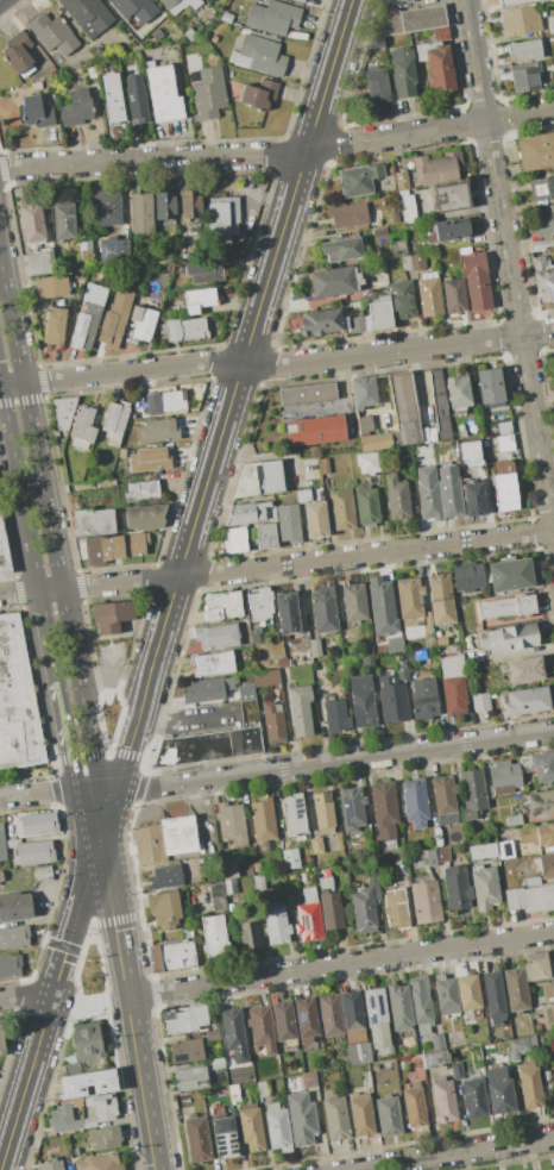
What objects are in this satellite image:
building: (300, 0)
building: (514, 2)
building: (180, 5)
building: (134, 8)
building: (88, 15)
building: (226, 17)
building: (272, 17)
building: (422, 17)
building: (520, 20)
building: (386, 21)
building: (550, 24)
building: (164, 30)
building: (51, 33)
building: (440, 33)
building: (189, 35)
building: (524, 50)
building: (99, 52)
building: (18, 54)
building: (258, 55)
building: (436, 64)
building: (402, 70)
building: (92, 71)
road: (328, 75)
building: (524, 76)
building: (49, 85)
building: (36, 86)
building: (377, 86)
building: (206, 92)
building: (163, 94)
building: (259, 94)
building: (111, 96)
building: (133, 98)
building: (76, 107)
building: (34, 112)
building: (270, 120)
road: (429, 129)
building: (535, 151)
road: (153, 161)
building: (434, 167)
building: (359, 179)
building: (401, 180)
building: (541, 188)
building: (451, 195)
building: (166, 205)
building: (190, 205)
building: (405, 207)
building: (106, 208)
building: (141, 213)
building: (347, 214)
building: (221, 215)
building: (394, 218)
building: (543, 220)
building: (62, 221)
building: (31, 224)
building: (449, 230)
building: (379, 237)
building: (541, 245)
building: (84, 248)
building: (396, 248)
building: (113, 249)
building: (340, 249)
road: (273, 257)
building: (415, 258)
building: (40, 262)
building: (403, 262)
building: (380, 268)
road: (510, 268)
building: (203, 271)
building: (474, 277)
building: (542, 279)
building: (336, 280)
building: (51, 286)
building: (428, 294)
building: (454, 295)
building: (401, 299)
building: (197, 300)
building: (354, 305)
building: (378, 313)
building: (87, 318)
building: (115, 320)
building: (143, 323)
building: (319, 323)
building: (355, 324)
building: (55, 325)
building: (185, 329)
road: (289, 364)
road: (12, 384)
building: (489, 387)
building: (364, 392)
building: (307, 393)
building: (458, 393)
building: (165, 401)
building: (439, 403)
building: (329, 407)
building: (63, 411)
building: (397, 418)
building: (114, 423)
building: (364, 425)
building: (497, 425)
building: (82, 428)
building: (157, 430)
building: (314, 431)
building: (504, 443)
building: (470, 452)
building: (149, 459)
building: (367, 463)
building: (323, 465)
road: (209, 470)
building: (259, 478)
building: (106, 483)
building: (82, 486)
building: (503, 487)
building: (141, 490)
building: (429, 498)
building: (451, 498)
building: (396, 499)
building: (472, 499)
building: (367, 507)
building: (342, 509)
building: (246, 514)
building: (145, 517)
building: (315, 519)
building: (93, 521)
building: (288, 523)
road: (51, 530)
road: (26, 533)
building: (265, 537)
building: (235, 540)
building: (122, 546)
building: (93, 551)
building: (2, 552)
road: (308, 562)
building: (510, 574)
building: (467, 576)
road: (50, 589)
road: (18, 592)
building: (440, 593)
building: (353, 602)
building: (221, 606)
building: (382, 606)
building: (259, 607)
building: (410, 607)
building: (508, 607)
building: (323, 609)
building: (287, 613)
building: (114, 615)
building: (428, 631)
building: (215, 636)
building: (508, 638)
building: (394, 644)
building: (315, 647)
road: (523, 651)
building: (415, 656)
building: (281, 662)
building: (369, 662)
building: (212, 664)
building: (401, 668)
building: (525, 669)
building: (265, 677)
building: (453, 684)
building: (207, 689)
road: (143, 692)
building: (245, 692)
building: (423, 697)
building: (391, 700)
building: (525, 700)
building: (18, 701)
building: (361, 701)
building: (480, 702)
building: (300, 711)
road: (187, 713)
road: (61, 715)
building: (335, 715)
parking lot: (202, 719)
building: (273, 722)
building: (208, 746)
building: (542, 768)
road: (275, 769)
building: (503, 778)
road: (80, 780)
building: (472, 794)
building: (443, 799)
building: (414, 802)
building: (541, 802)
traffic signals: (102, 803)
building: (351, 808)
road: (195, 811)
building: (323, 812)
building: (294, 813)
building: (384, 813)
building: (263, 819)
building: (514, 819)
building: (231, 822)
building: (36, 824)
building: (178, 834)
building: (537, 834)
building: (437, 837)
building: (2, 844)
building: (149, 844)
building: (316, 845)
building: (504, 850)
building: (32, 851)
building: (481, 851)
building: (441, 855)
building: (426, 857)
building: (290, 858)
building: (546, 865)
building: (257, 866)
building: (228, 870)
building: (354, 870)
building: (43, 874)
building: (1, 876)
building: (165, 877)
building: (531, 881)
building: (518, 882)
building: (258, 883)
building: (229, 886)
building: (485, 887)
building: (455, 888)
building: (216, 895)
building: (514, 897)
building: (539, 899)
road: (113, 900)
road: (81, 902)
building: (427, 902)
building: (329, 905)
building: (14, 906)
building: (163, 909)
building: (395, 909)
building: (364, 911)
building: (308, 916)
building: (276, 925)
building: (248, 936)
building: (213, 937)
building: (13, 938)
building: (174, 956)
road: (341, 963)
building: (11, 966)
building: (536, 966)
building: (553, 968)
building: (515, 989)
building: (548, 990)
building: (467, 991)
building: (446, 995)
road: (25, 996)
building: (493, 997)
road: (90, 1001)
building: (553, 1003)
building: (420, 1005)
building: (399, 1009)
building: (330, 1015)
building: (376, 1016)
building: (306, 1019)
building: (187, 1020)
building: (284, 1022)
building: (260, 1028)
building: (354, 1028)
building: (232, 1030)
building: (213, 1036)
building: (437, 1043)
building: (87, 1044)
building: (1, 1045)
building: (520, 1046)
building: (185, 1050)
building: (433, 1058)
building: (215, 1063)
building: (455, 1070)
building: (190, 1078)
building: (309, 1080)
building: (87, 1083)
road: (144, 1083)
road: (25, 1084)
building: (528, 1085)
building: (263, 1088)
building: (498, 1091)
building: (234, 1093)
building: (473, 1099)
building: (443, 1100)
building: (75, 1101)
building: (414, 1106)
building: (102, 1107)
building: (360, 1115)
building: (388, 1115)
building: (63, 1119)
building: (301, 1119)
building: (335, 1119)
building: (88, 1122)
building: (277, 1126)
building: (251, 1127)
building: (196, 1137)
building: (103, 1138)
building: (225, 1138)
road: (451, 1152)
building: (97, 1163)
building: (50, 1165)
building: (552, 1169)

